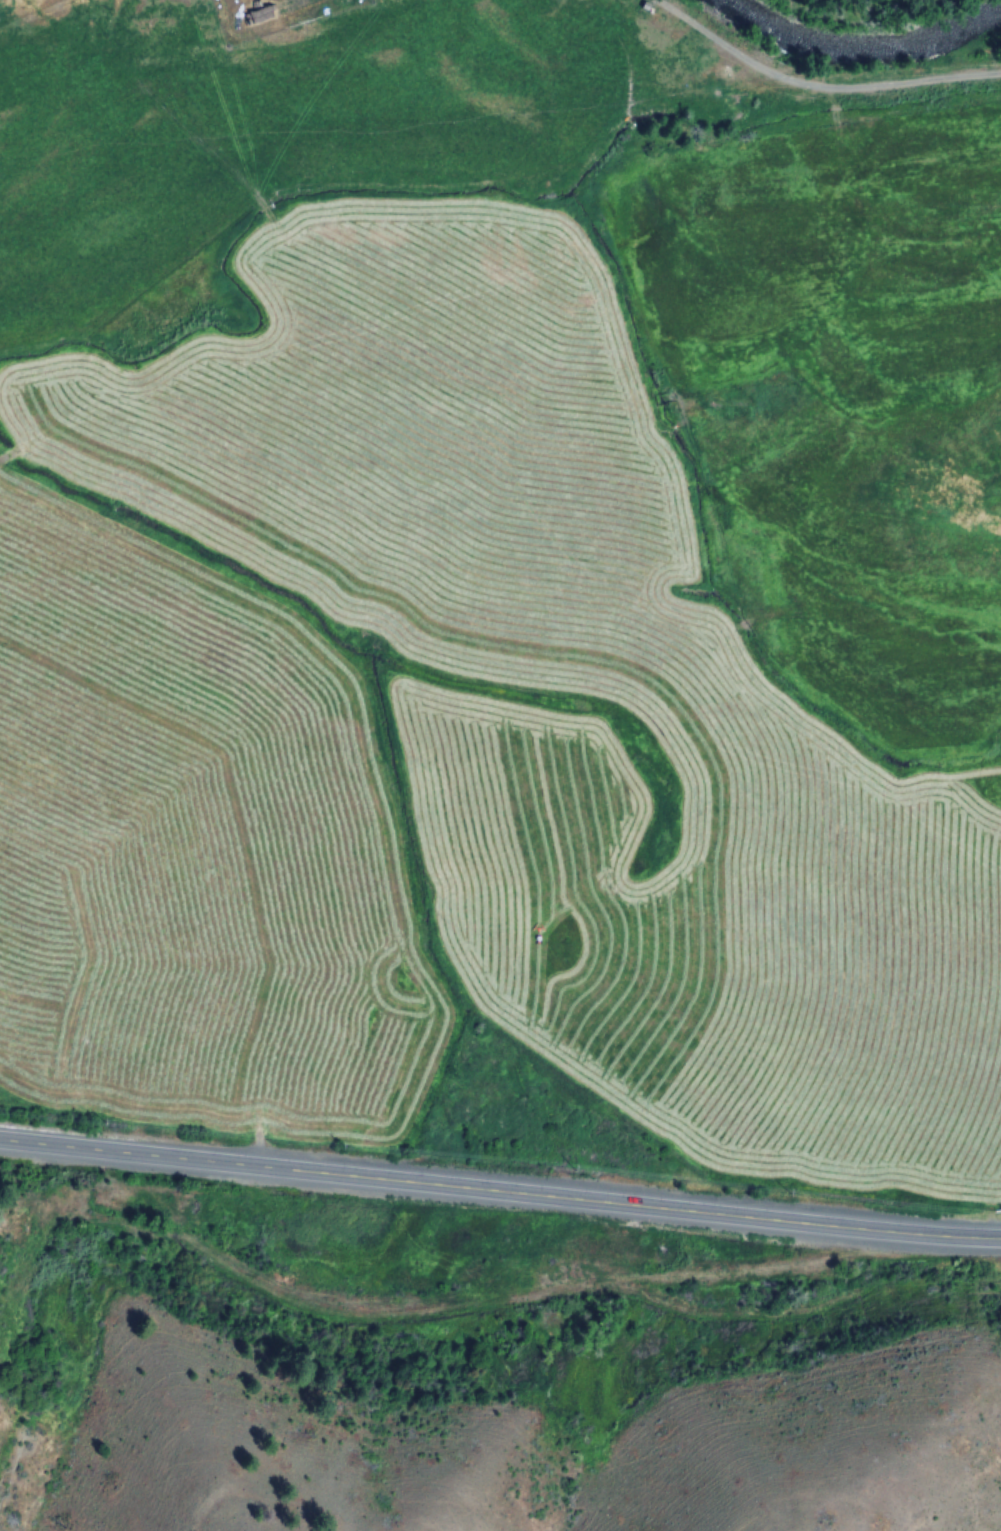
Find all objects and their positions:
river: (894, 14)
road: (500, 1192)

